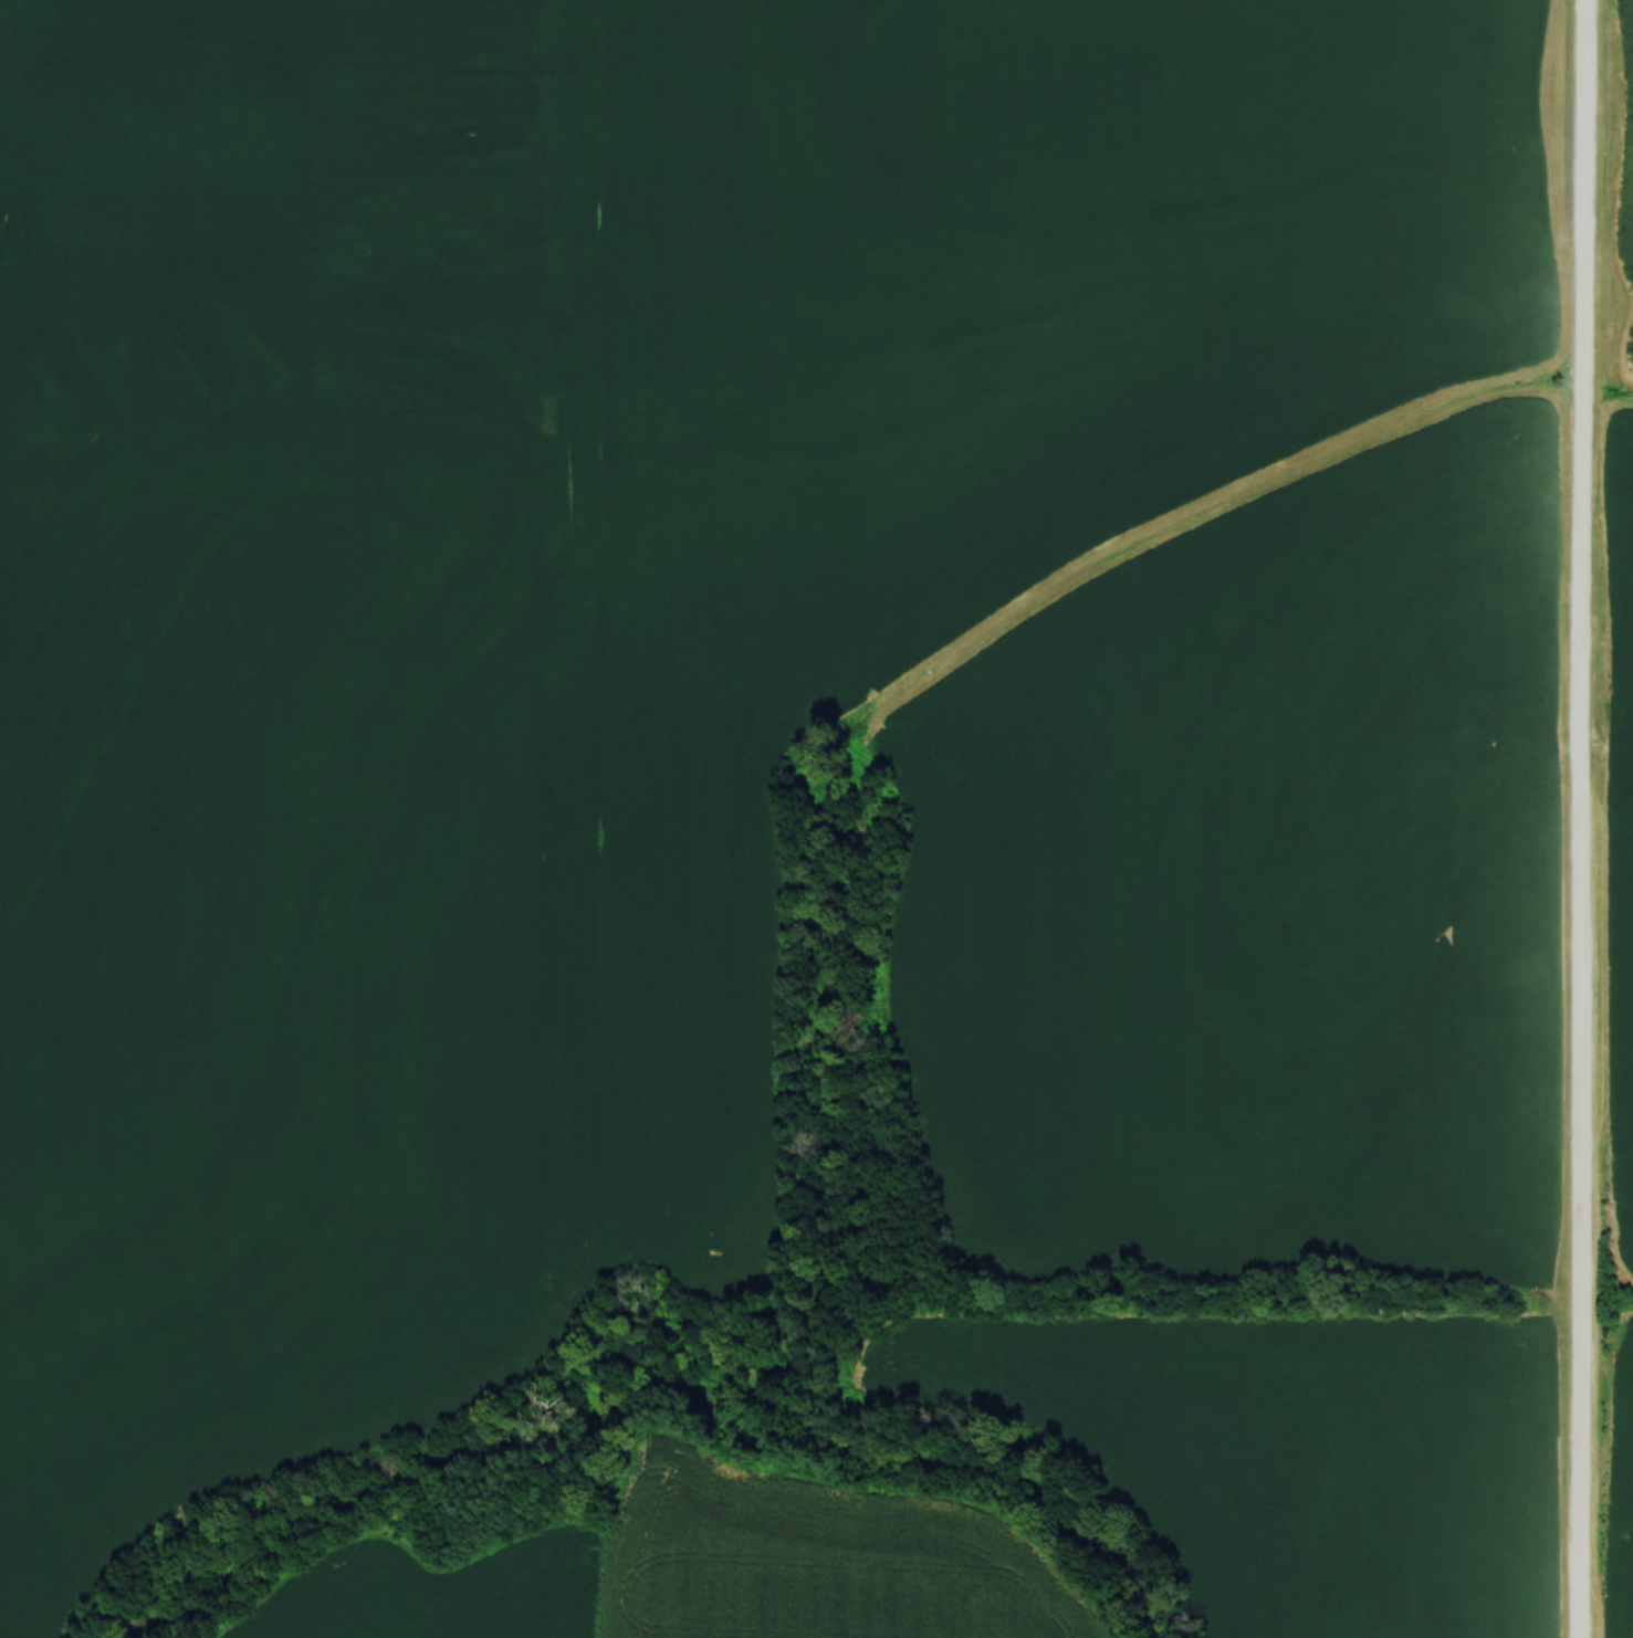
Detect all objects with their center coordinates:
road: (1582, 819)

